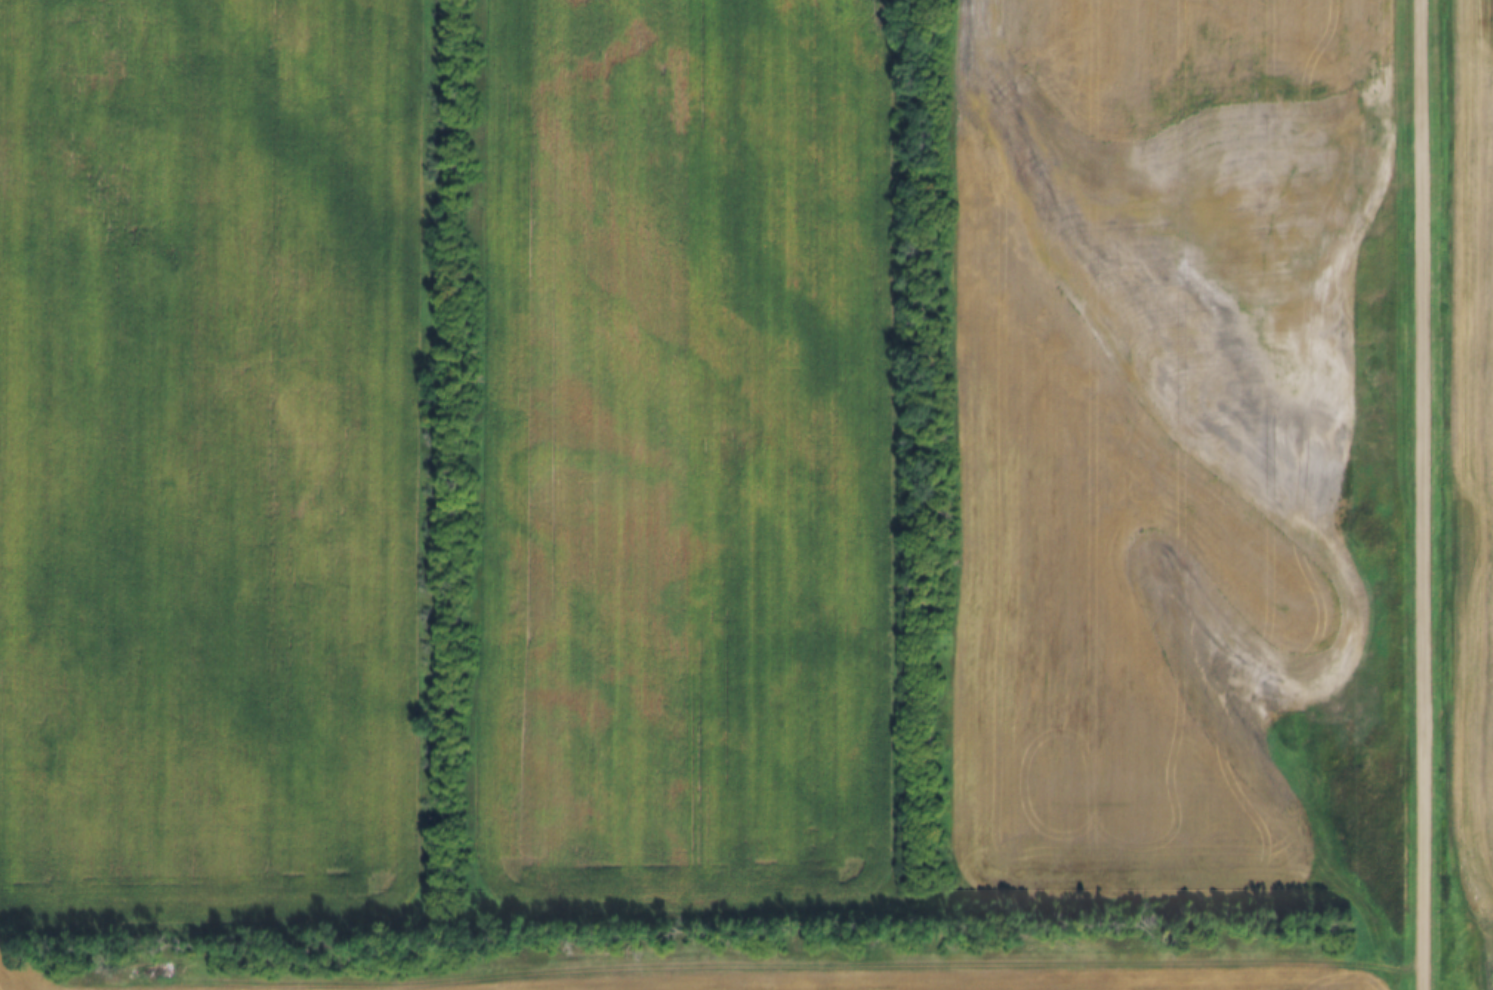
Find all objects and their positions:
road: (1418, 495)

